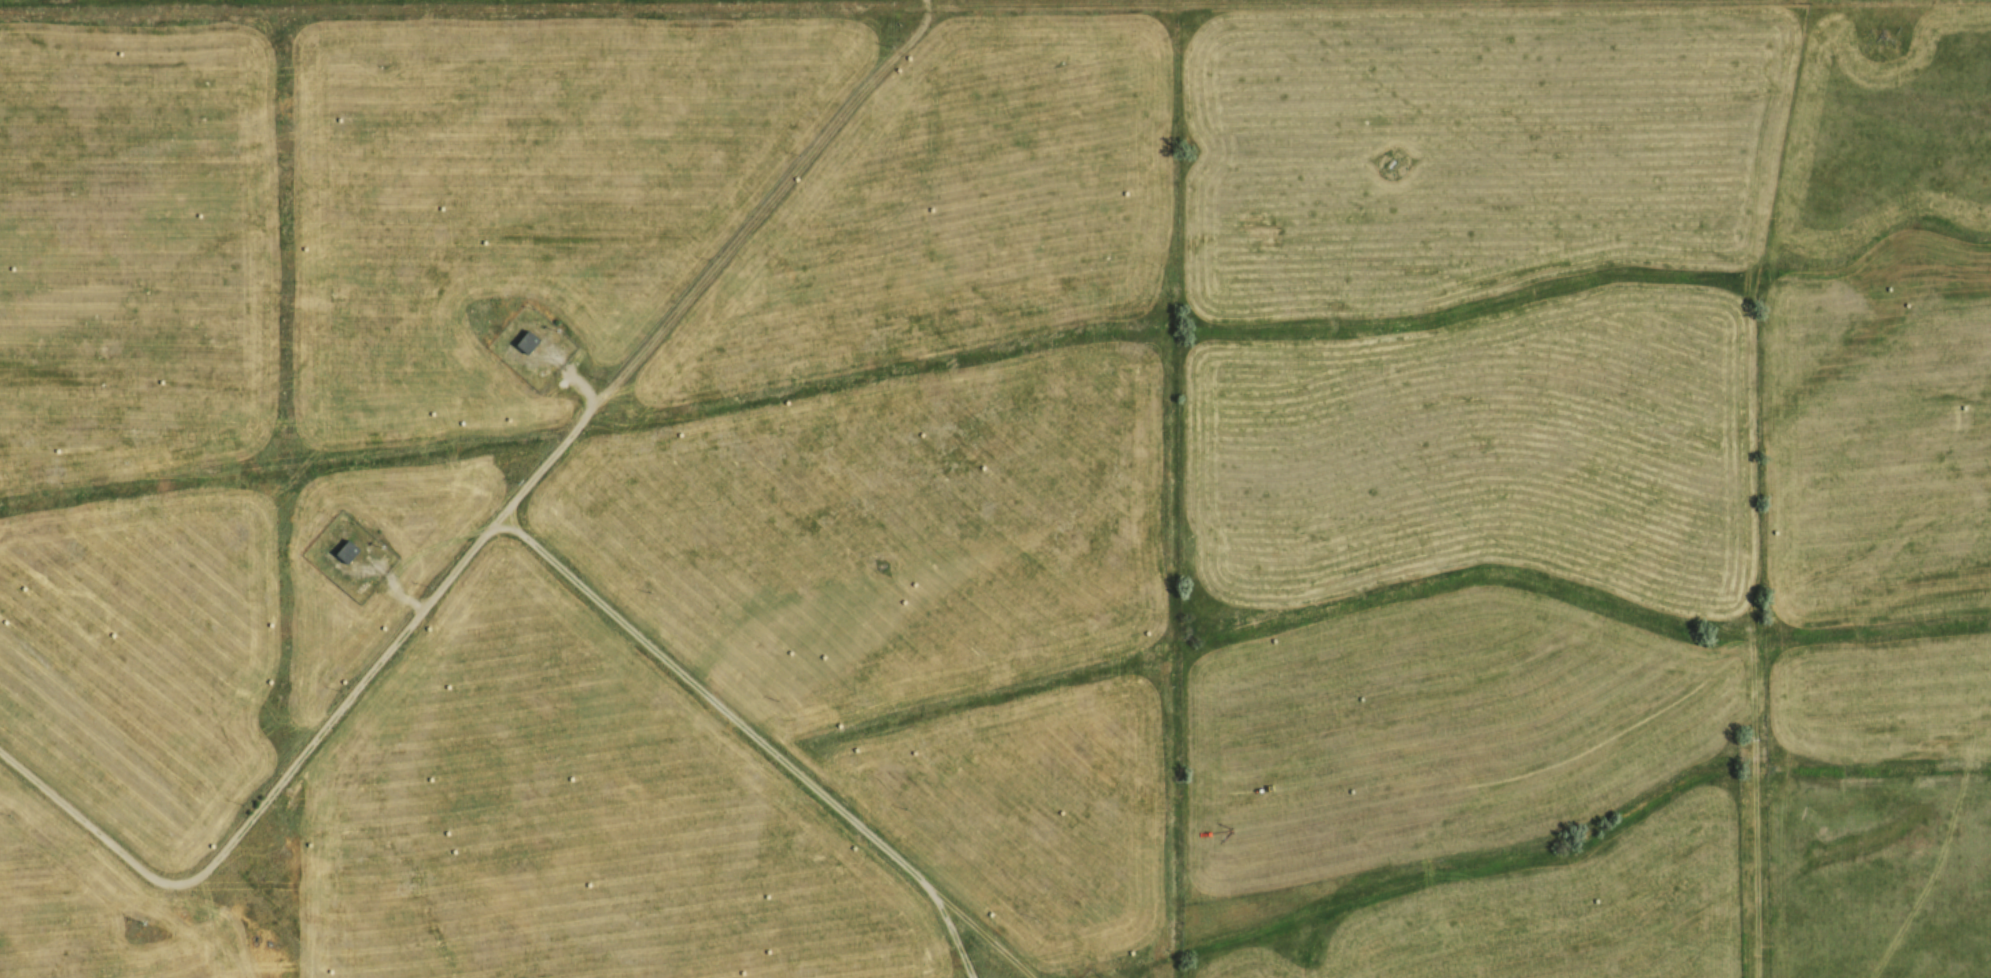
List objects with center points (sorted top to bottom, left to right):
building: (525, 342)
building: (344, 550)

